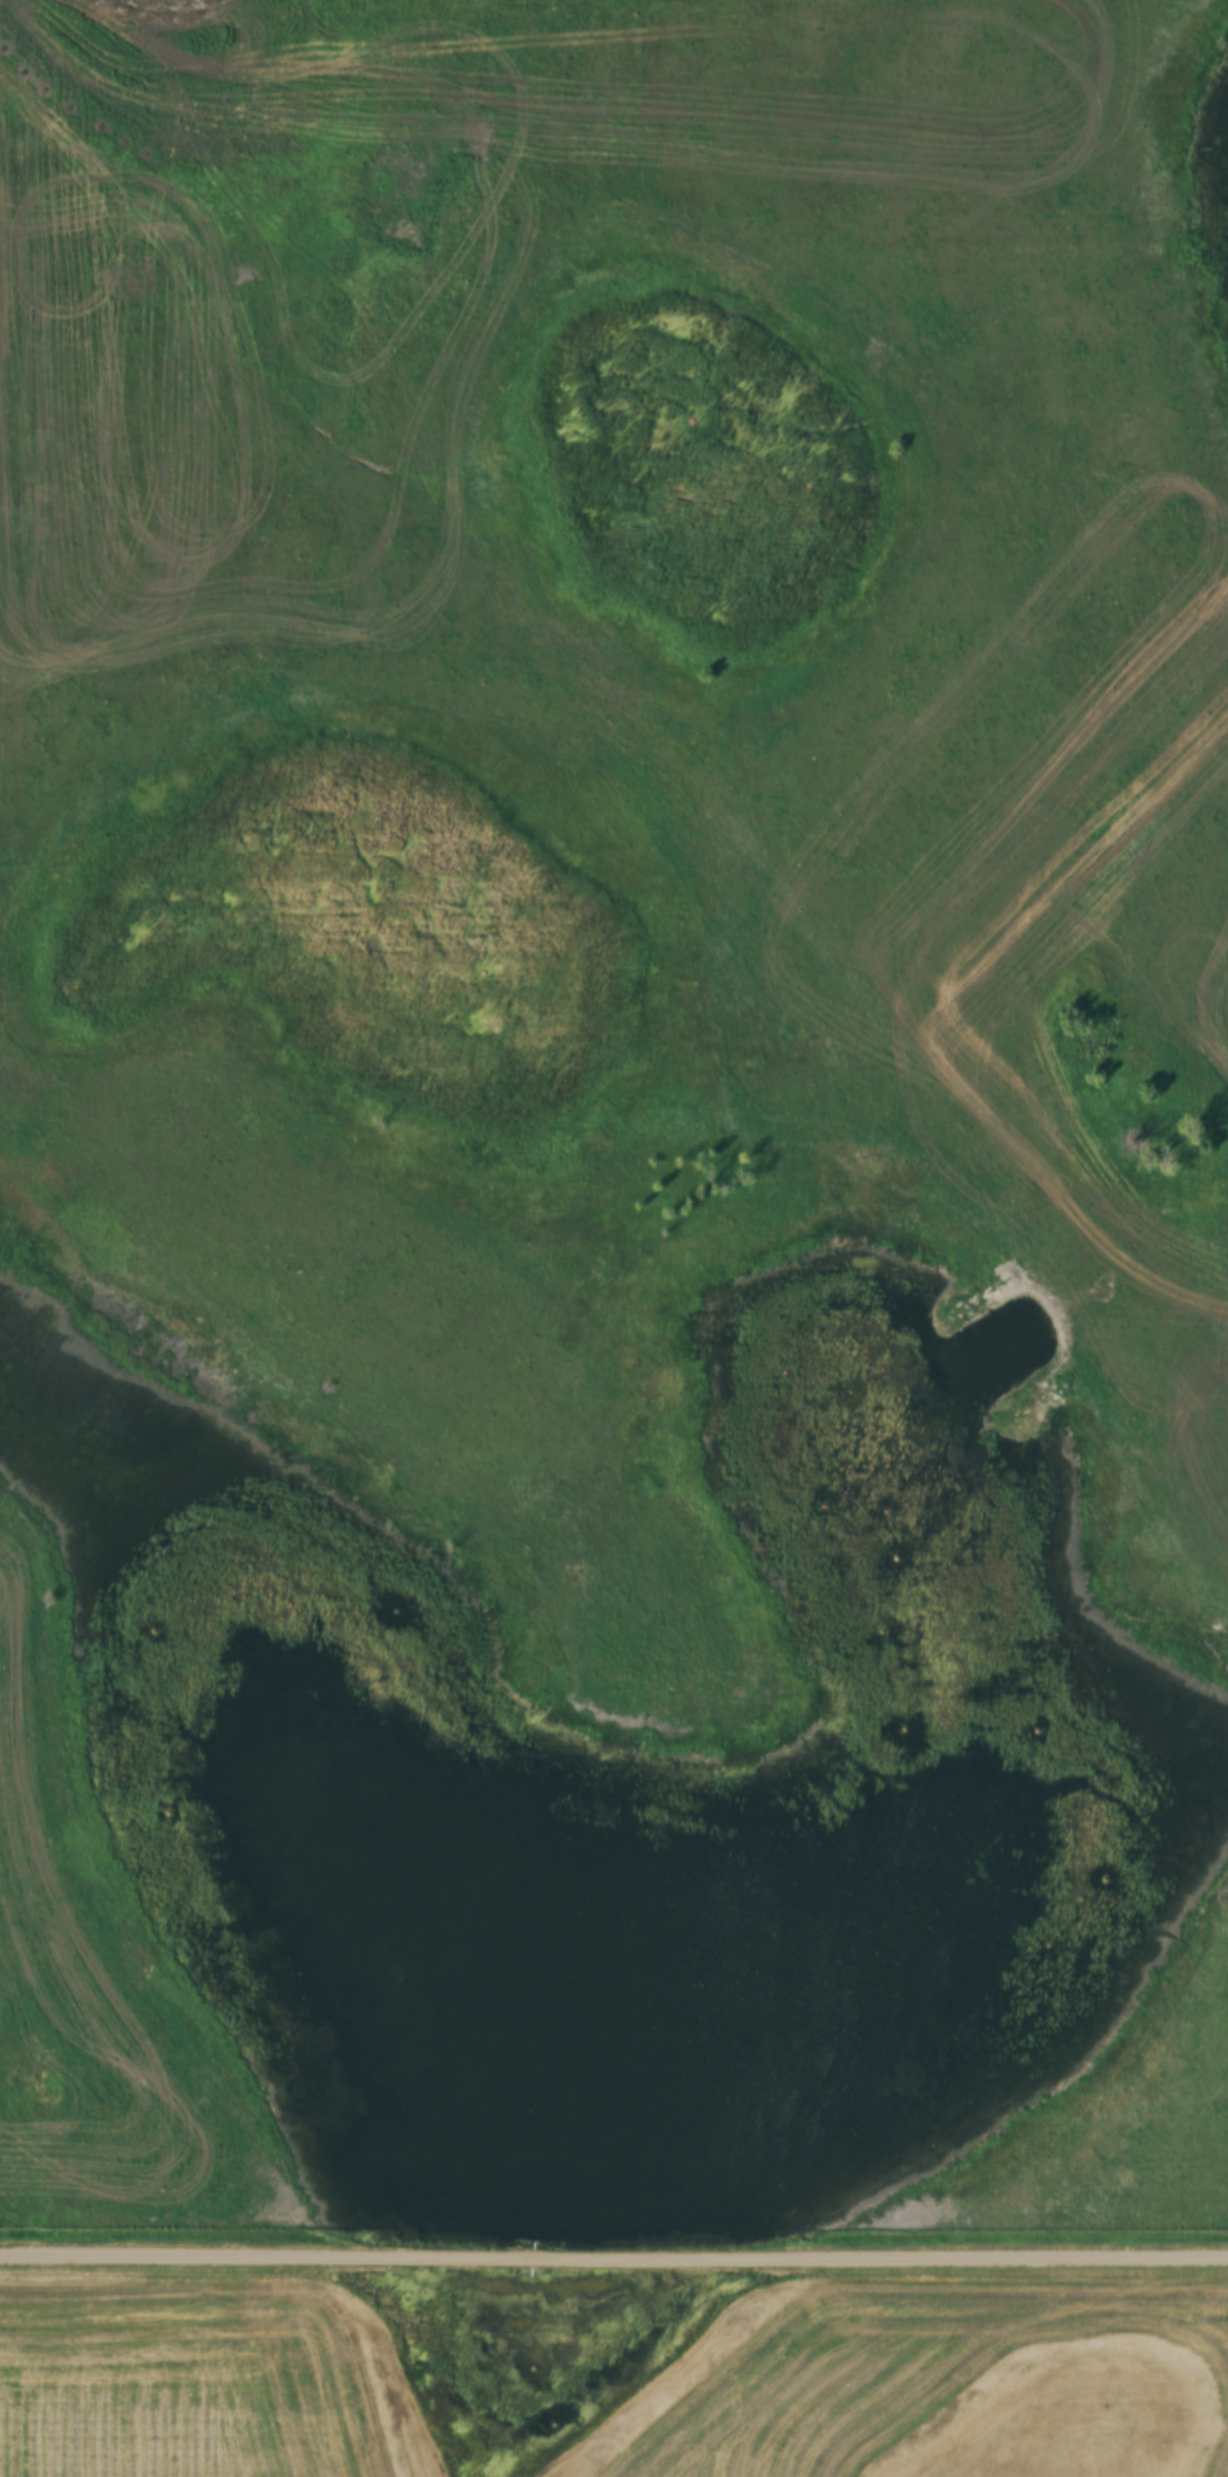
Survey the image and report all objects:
road: (614, 2259)

